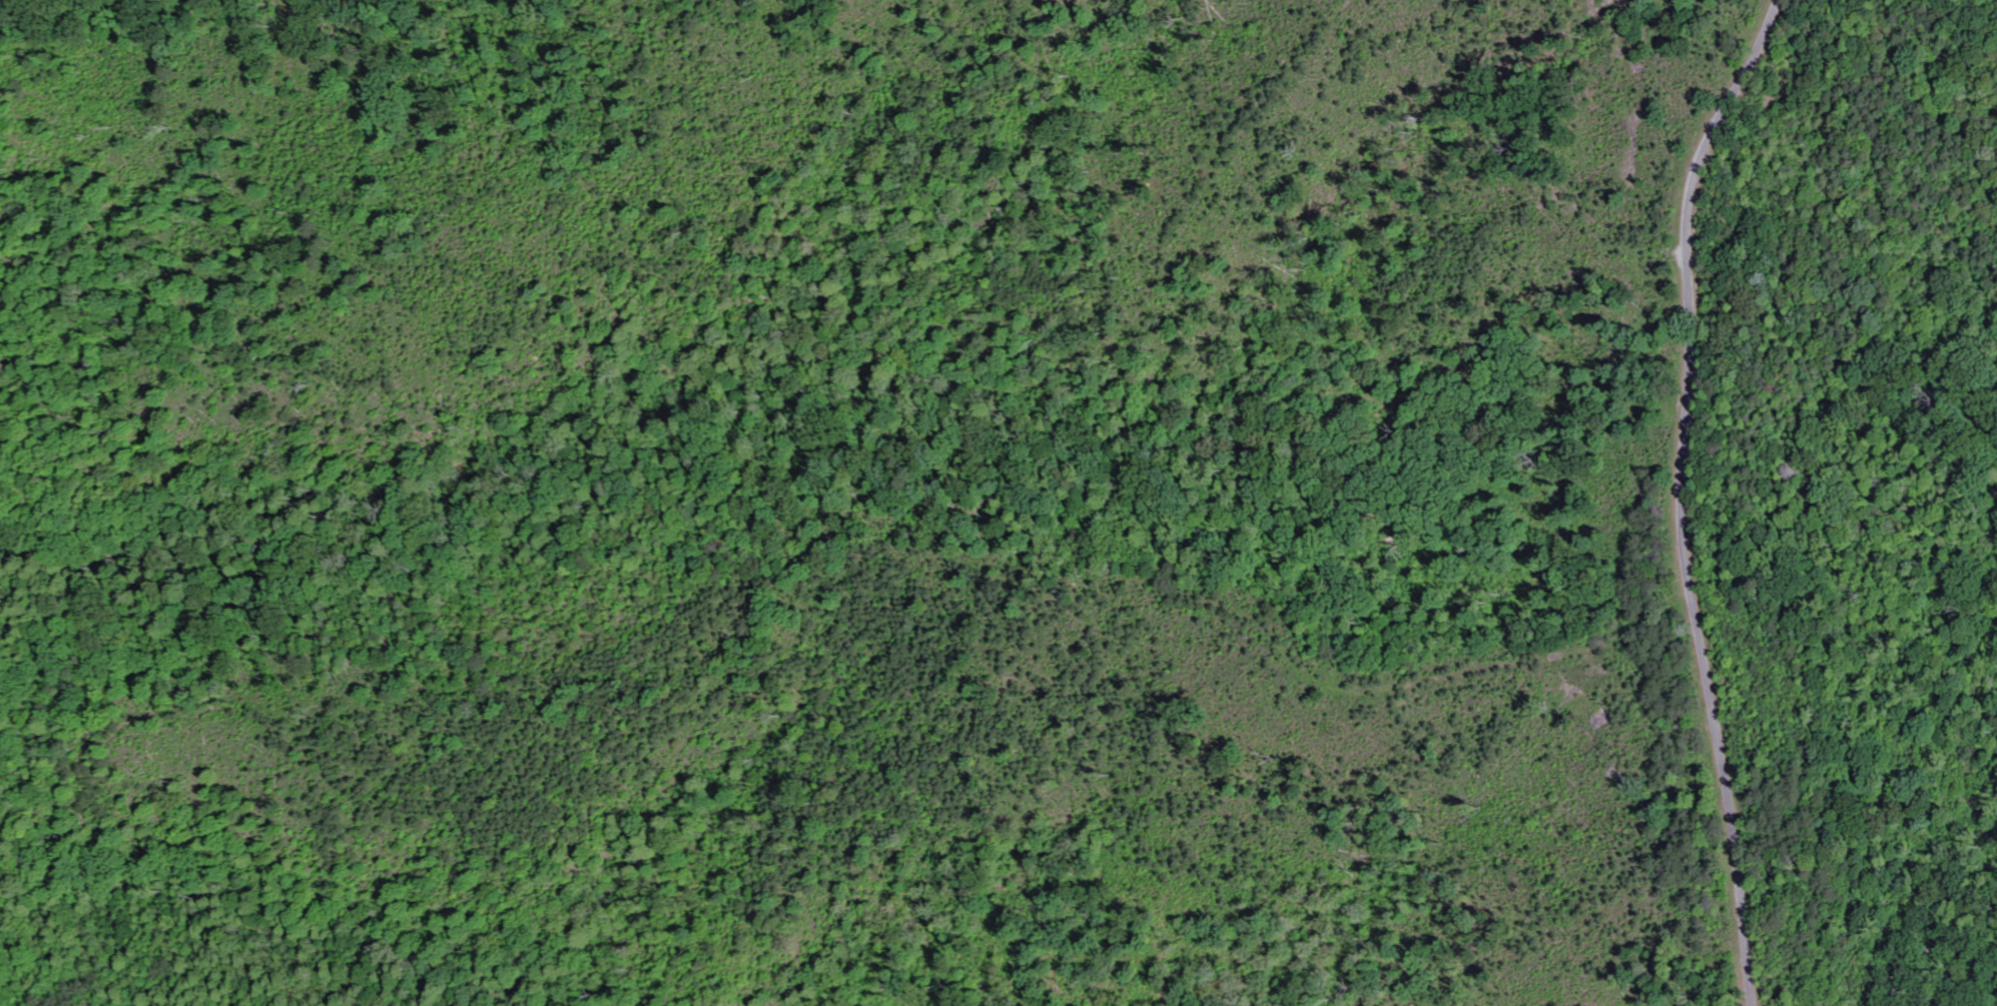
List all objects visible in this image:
road: (1687, 495)

